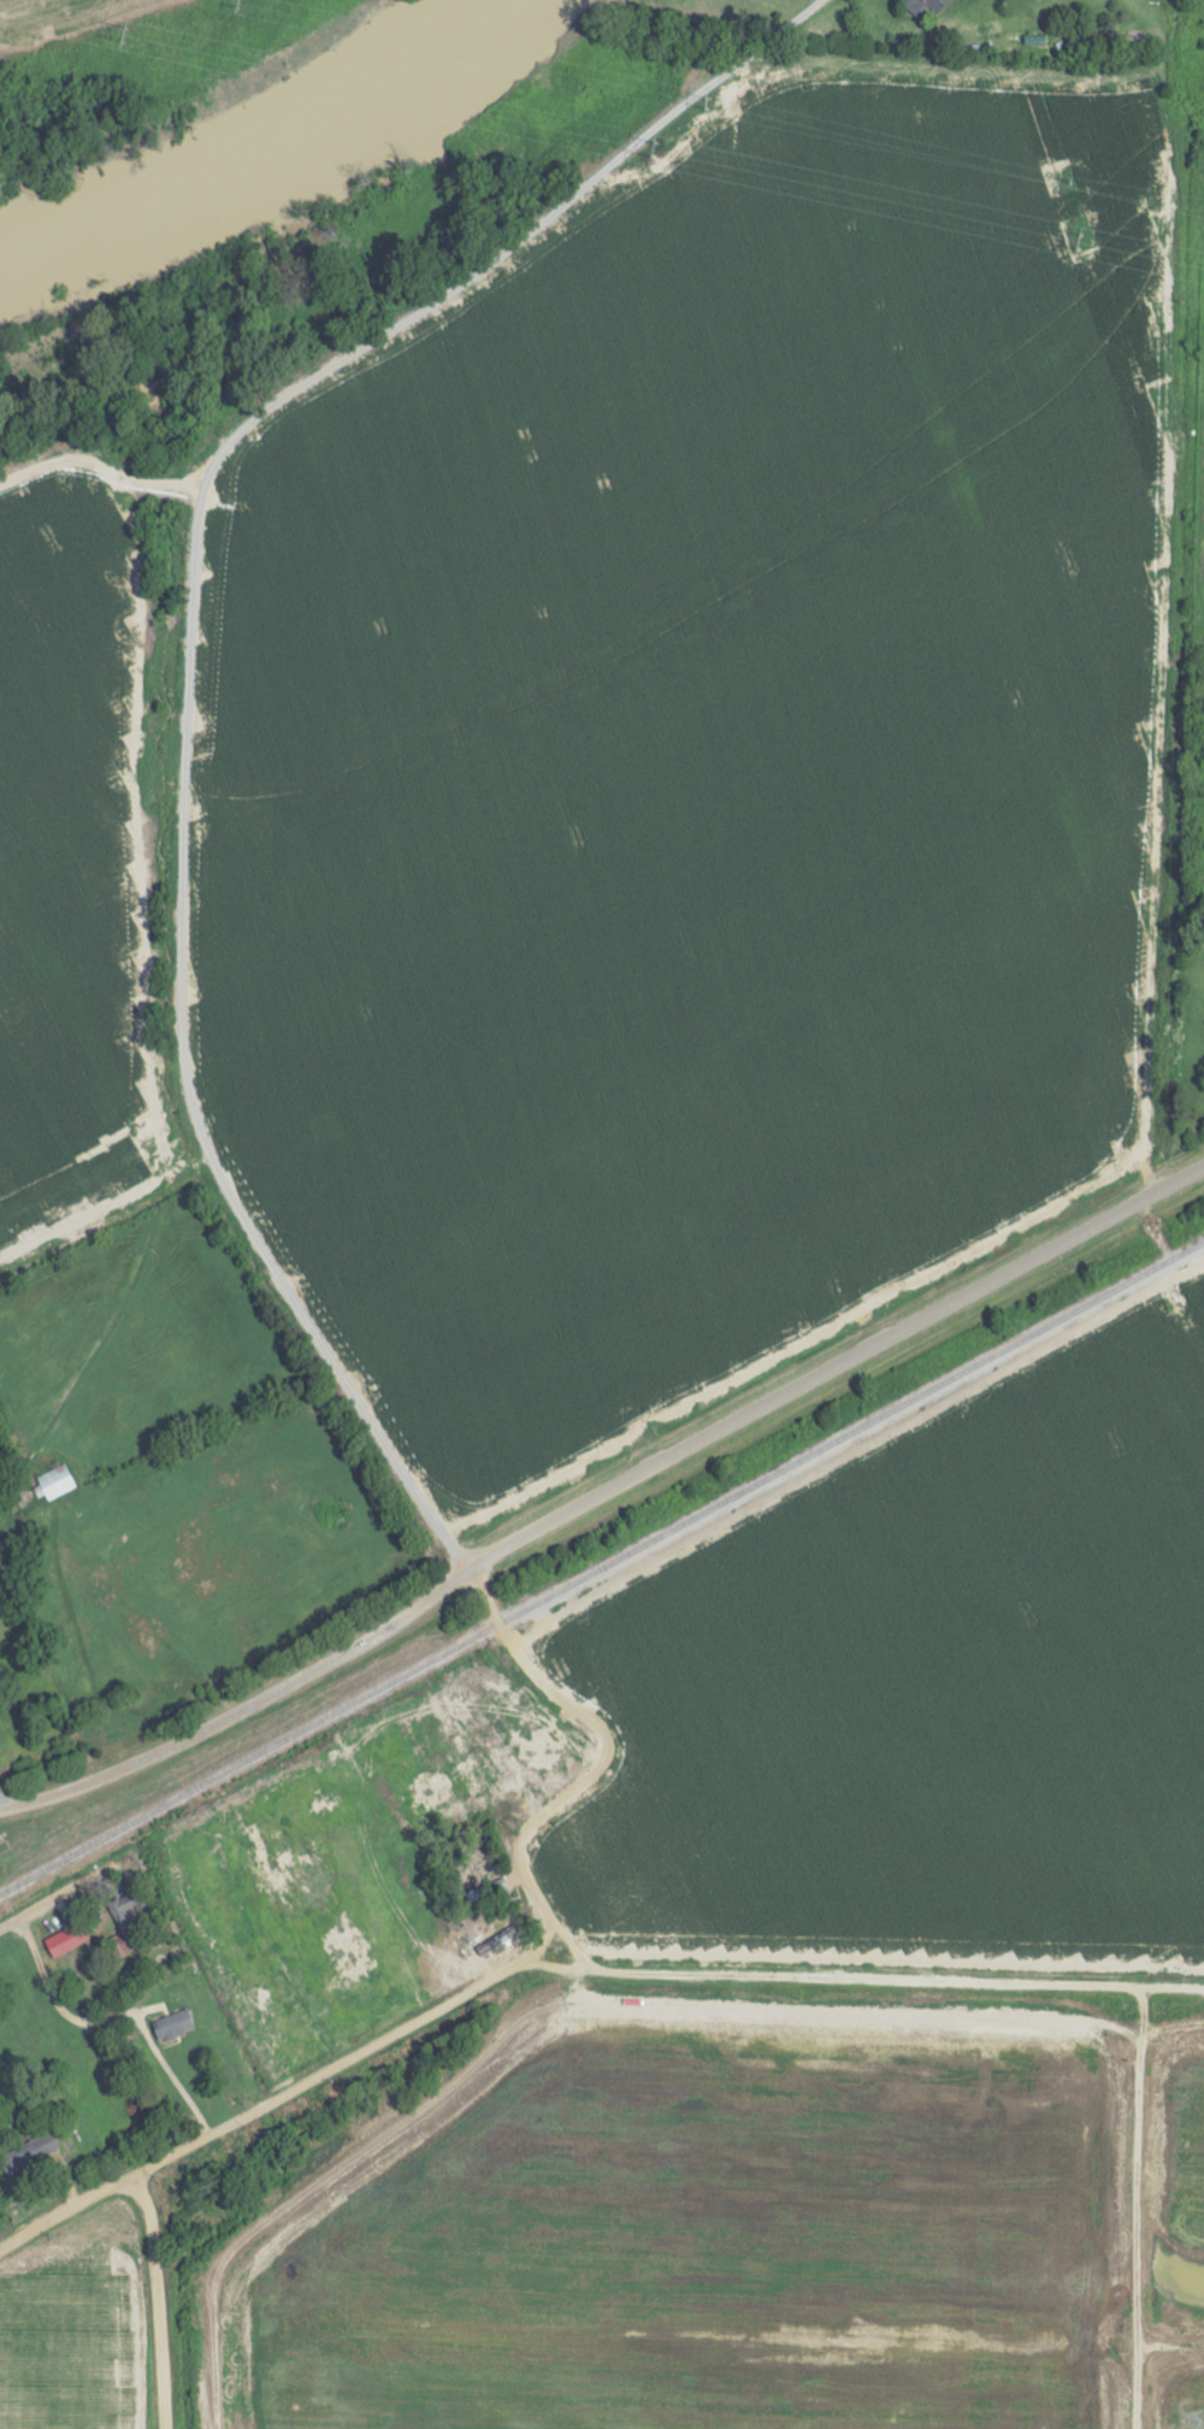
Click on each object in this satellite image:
building: (921, 6)
power tower: (126, 33)
power tower: (653, 146)
river: (254, 160)
power tower: (1080, 240)
road: (510, 249)
road: (101, 464)
building: (642, 806)
crop: (63, 824)
building: (52, 1481)
road: (601, 1491)
road: (8, 1514)
road: (432, 1525)
railway: (602, 1566)
building: (964, 1643)
crop: (923, 1692)
building: (542, 1762)
road: (2, 1799)
building: (126, 1909)
road: (37, 1910)
building: (64, 1939)
road: (855, 1977)
road: (85, 2001)
building: (171, 2026)
building: (28, 2152)
road: (155, 2298)

